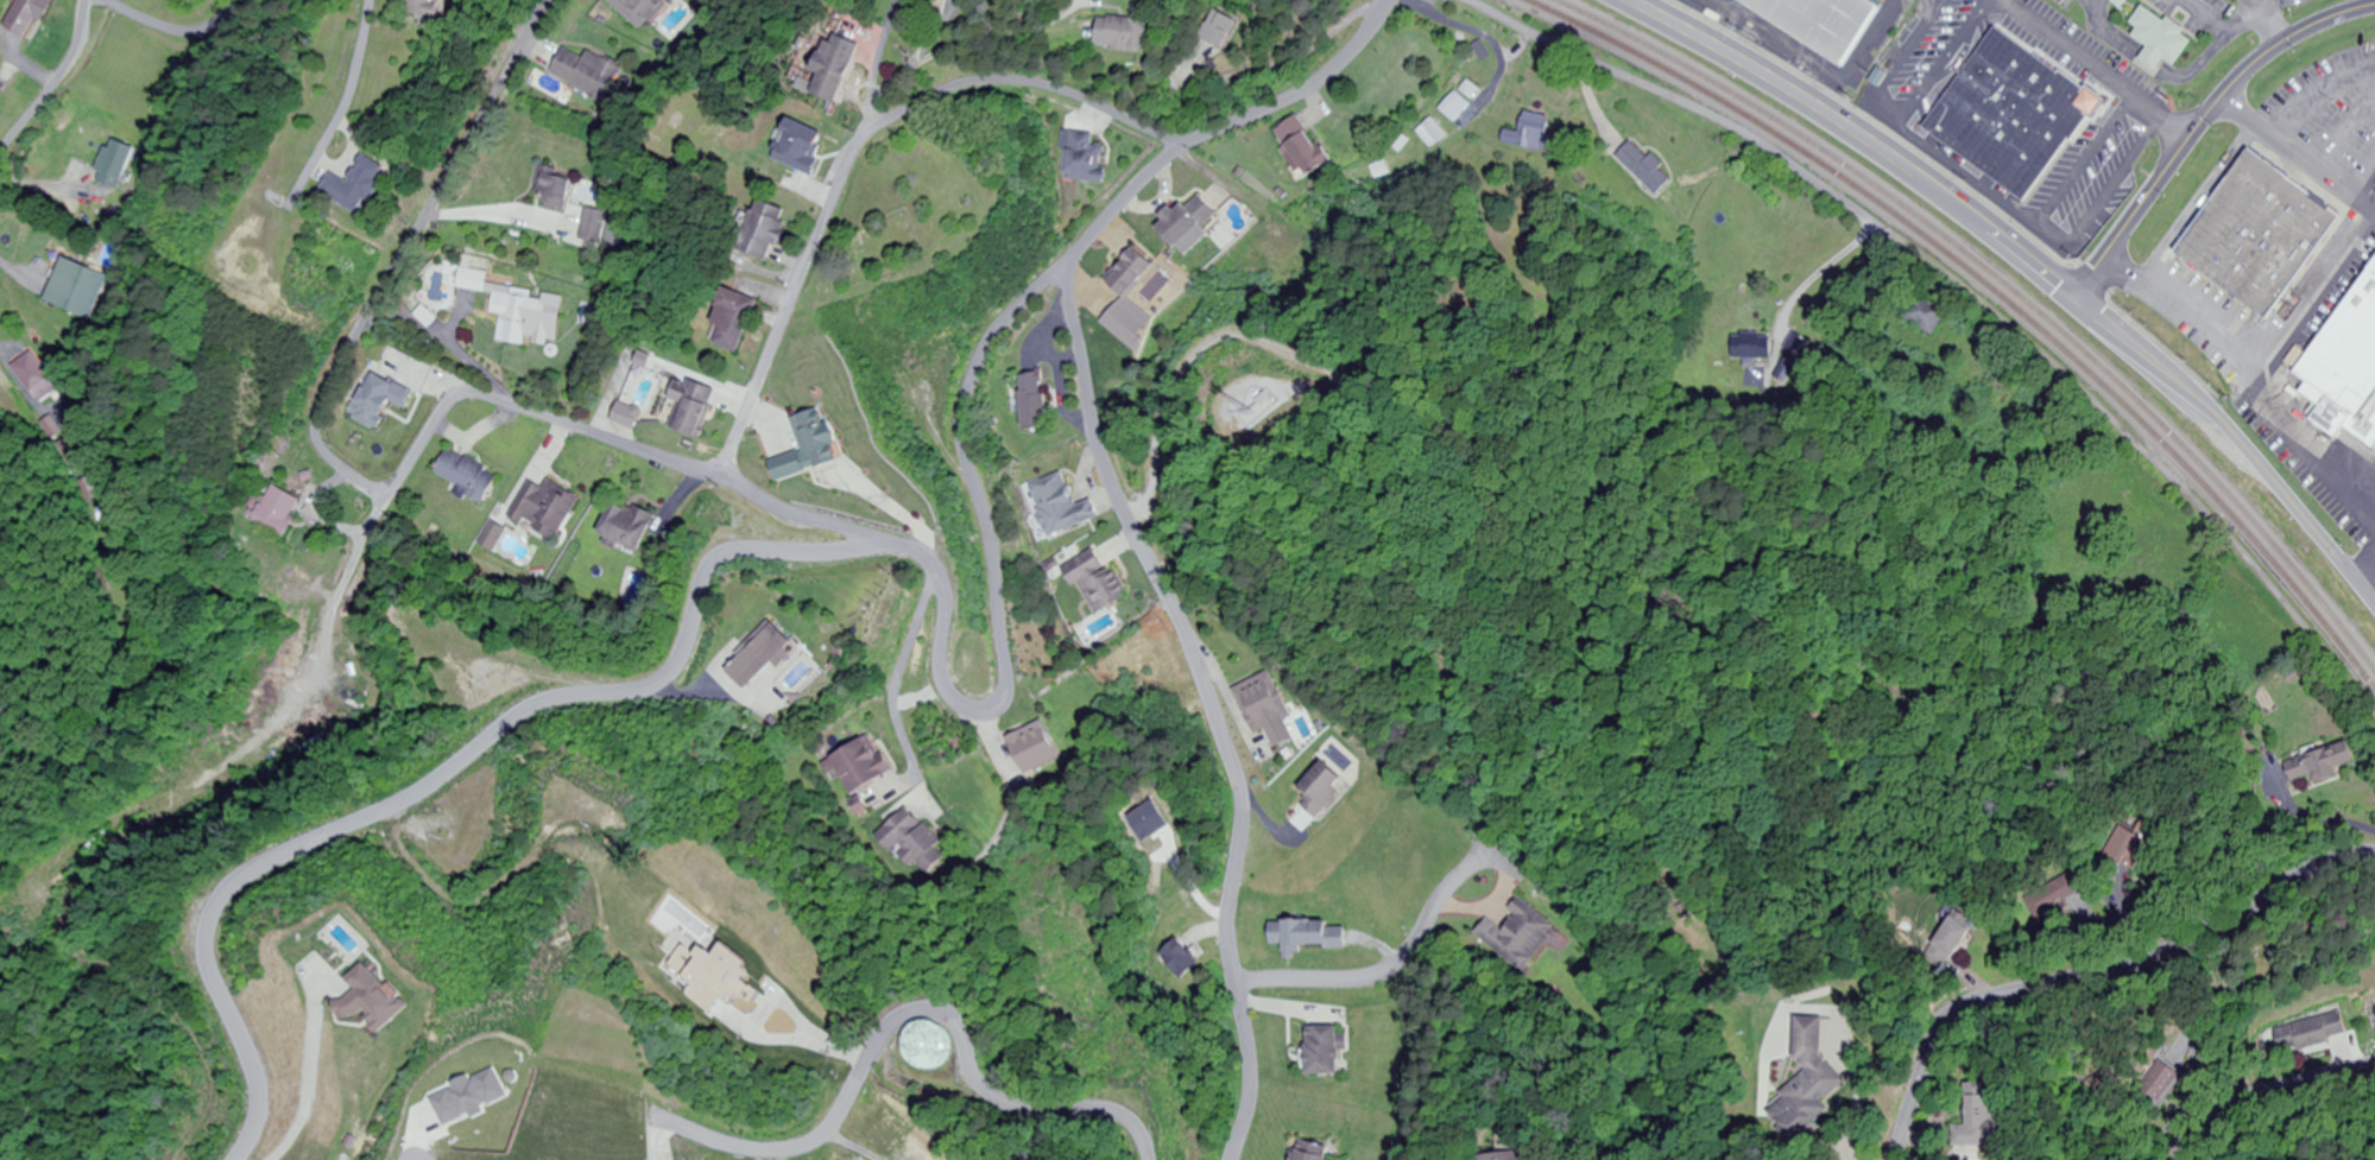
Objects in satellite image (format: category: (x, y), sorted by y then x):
building: (436, 9)
building: (640, 9)
building: (29, 18)
building: (1824, 25)
road: (175, 30)
building: (1234, 31)
building: (1137, 37)
building: (2164, 39)
road: (1946, 61)
road: (880, 63)
road: (1903, 64)
building: (838, 66)
road: (2093, 69)
building: (588, 74)
road: (50, 85)
road: (365, 91)
road: (2320, 94)
building: (1455, 107)
building: (2017, 120)
road: (2199, 122)
road: (1219, 126)
road: (2346, 132)
building: (1432, 133)
building: (1533, 134)
building: (1307, 146)
road: (2298, 153)
building: (1091, 159)
road: (2083, 161)
building: (113, 165)
building: (1643, 169)
road: (2362, 172)
building: (365, 189)
building: (557, 191)
road: (1830, 191)
building: (1192, 222)
building: (594, 227)
building: (768, 233)
road: (2049, 236)
building: (2263, 243)
power tower: (214, 246)
road: (2035, 266)
power tower: (258, 270)
building: (1135, 275)
building: (478, 281)
railway: (1988, 285)
building: (76, 290)
building: (1927, 312)
building: (520, 316)
building: (735, 322)
building: (1752, 347)
building: (2348, 370)
building: (34, 378)
road: (2248, 389)
building: (384, 400)
building: (1036, 401)
building: (696, 406)
road: (316, 435)
building: (815, 445)
building: (470, 475)
building: (1062, 505)
building: (549, 507)
building: (278, 508)
road: (815, 515)
building: (631, 527)
building: (1095, 579)
road: (2268, 581)
road: (2369, 590)
power tower: (891, 596)
building: (769, 654)
road: (1208, 708)
building: (1268, 708)
building: (1036, 746)
road: (461, 762)
building: (2324, 763)
building: (866, 765)
building: (1325, 787)
building: (914, 837)
building: (2054, 896)
power tower: (1068, 911)
building: (1954, 931)
building: (1310, 934)
building: (1518, 934)
road: (2095, 968)
road: (918, 1013)
building: (2310, 1034)
building: (933, 1044)
building: (1328, 1051)
road: (2338, 1075)
building: (1811, 1077)
power tower: (1162, 1080)
building: (2159, 1082)
building: (1984, 1118)
building: (1315, 1151)
building: (1511, 1156)

